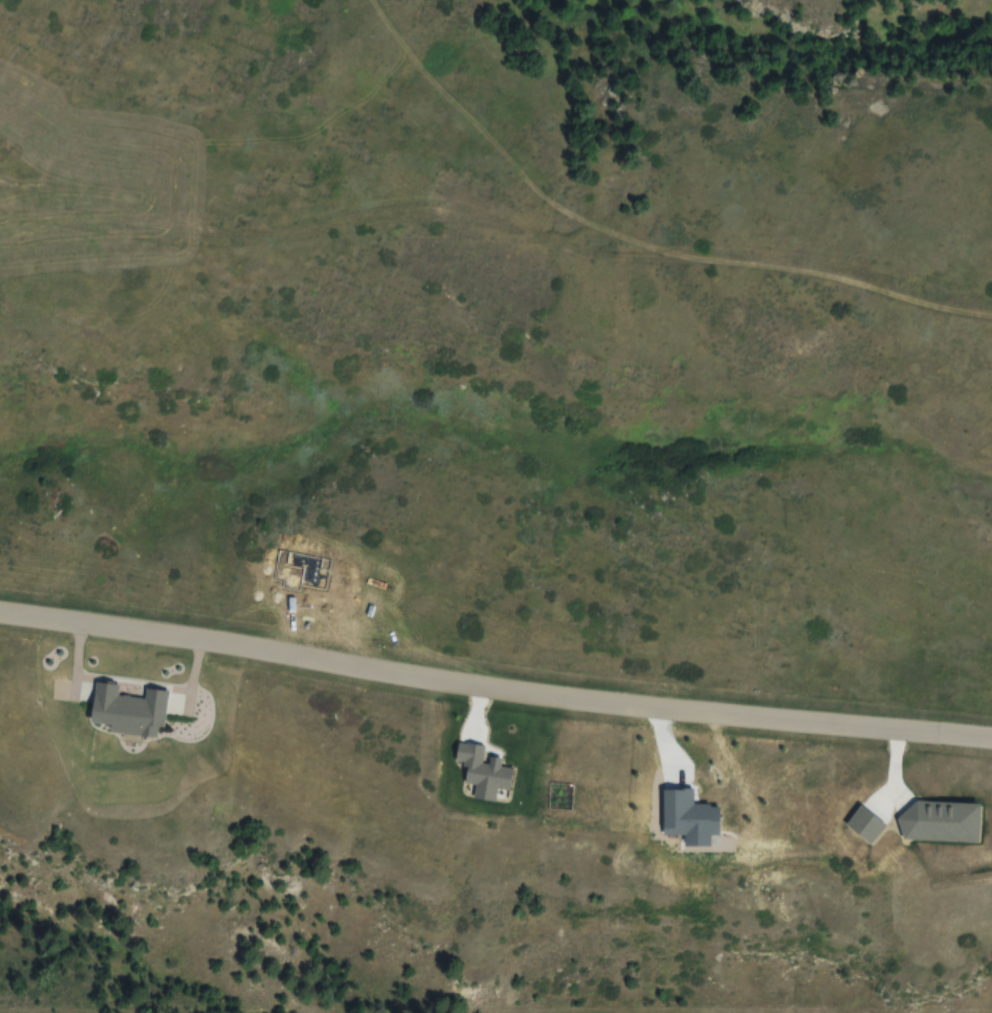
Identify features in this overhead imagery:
road: (494, 689)

